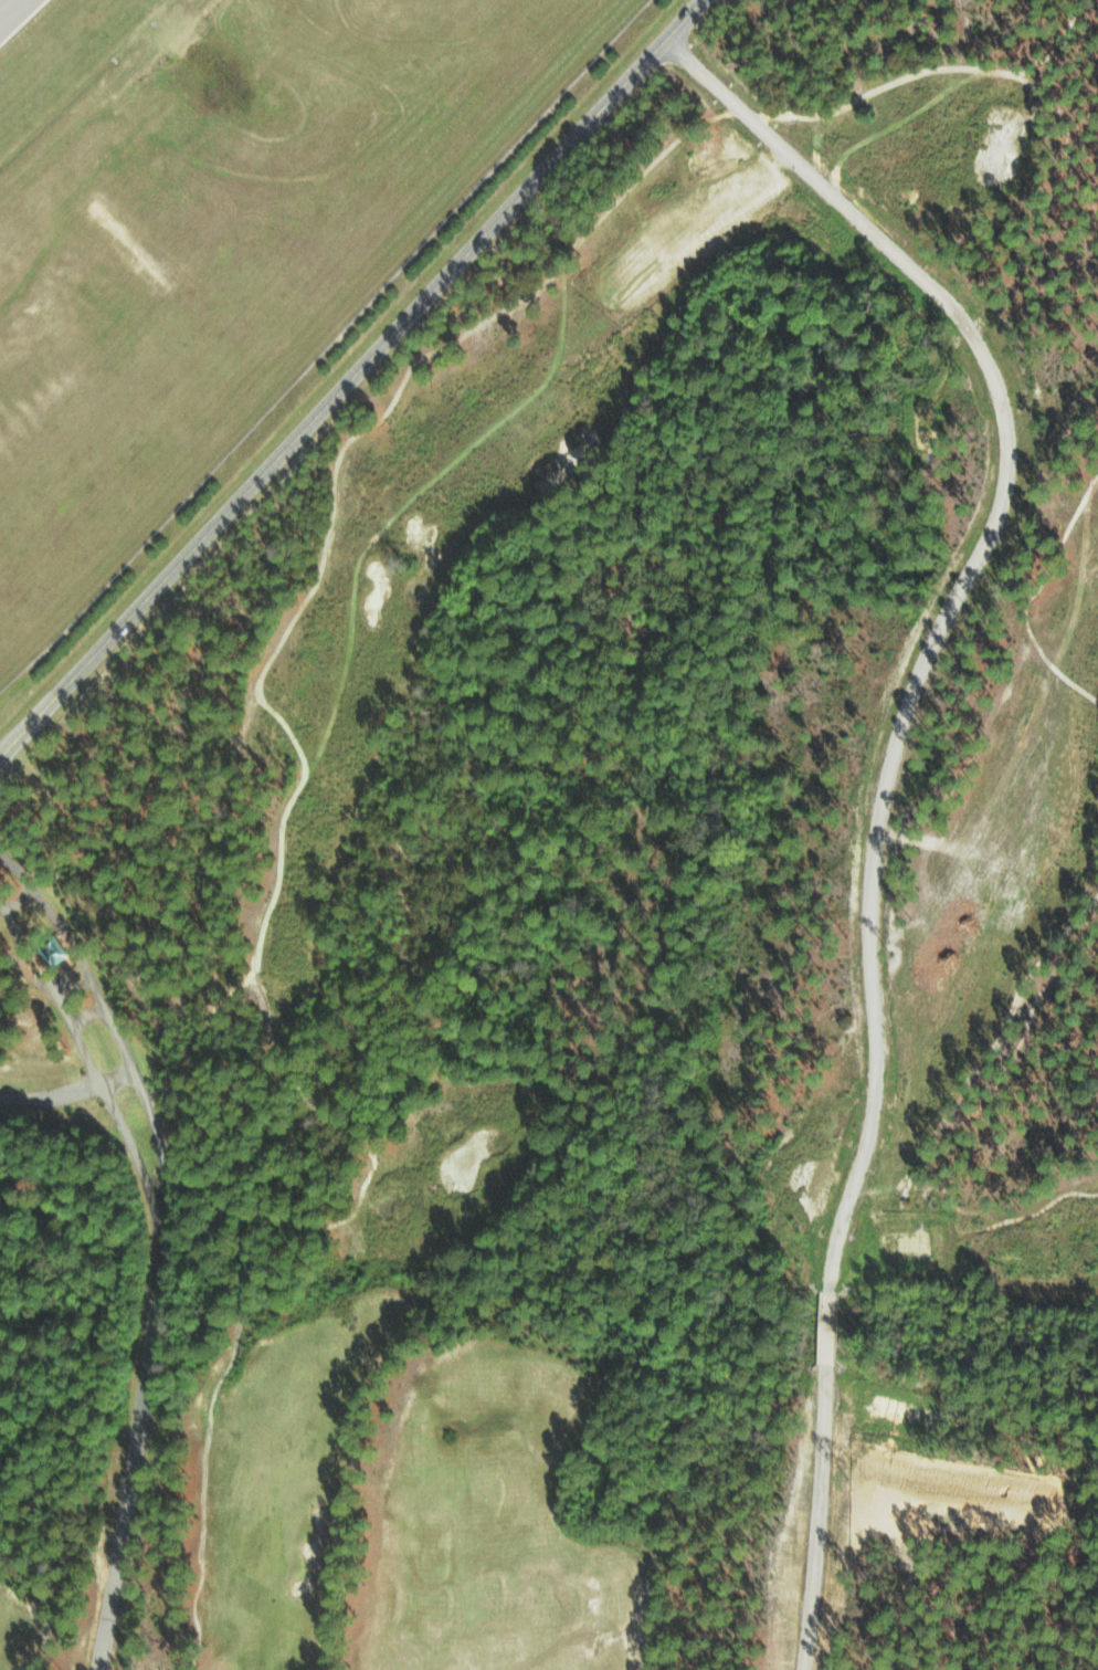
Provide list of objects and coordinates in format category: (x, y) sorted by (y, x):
airport: (221, 234)
road: (352, 379)
park: (677, 937)
road: (113, 1033)
road: (91, 1065)
road: (66, 1093)
road: (134, 1453)

